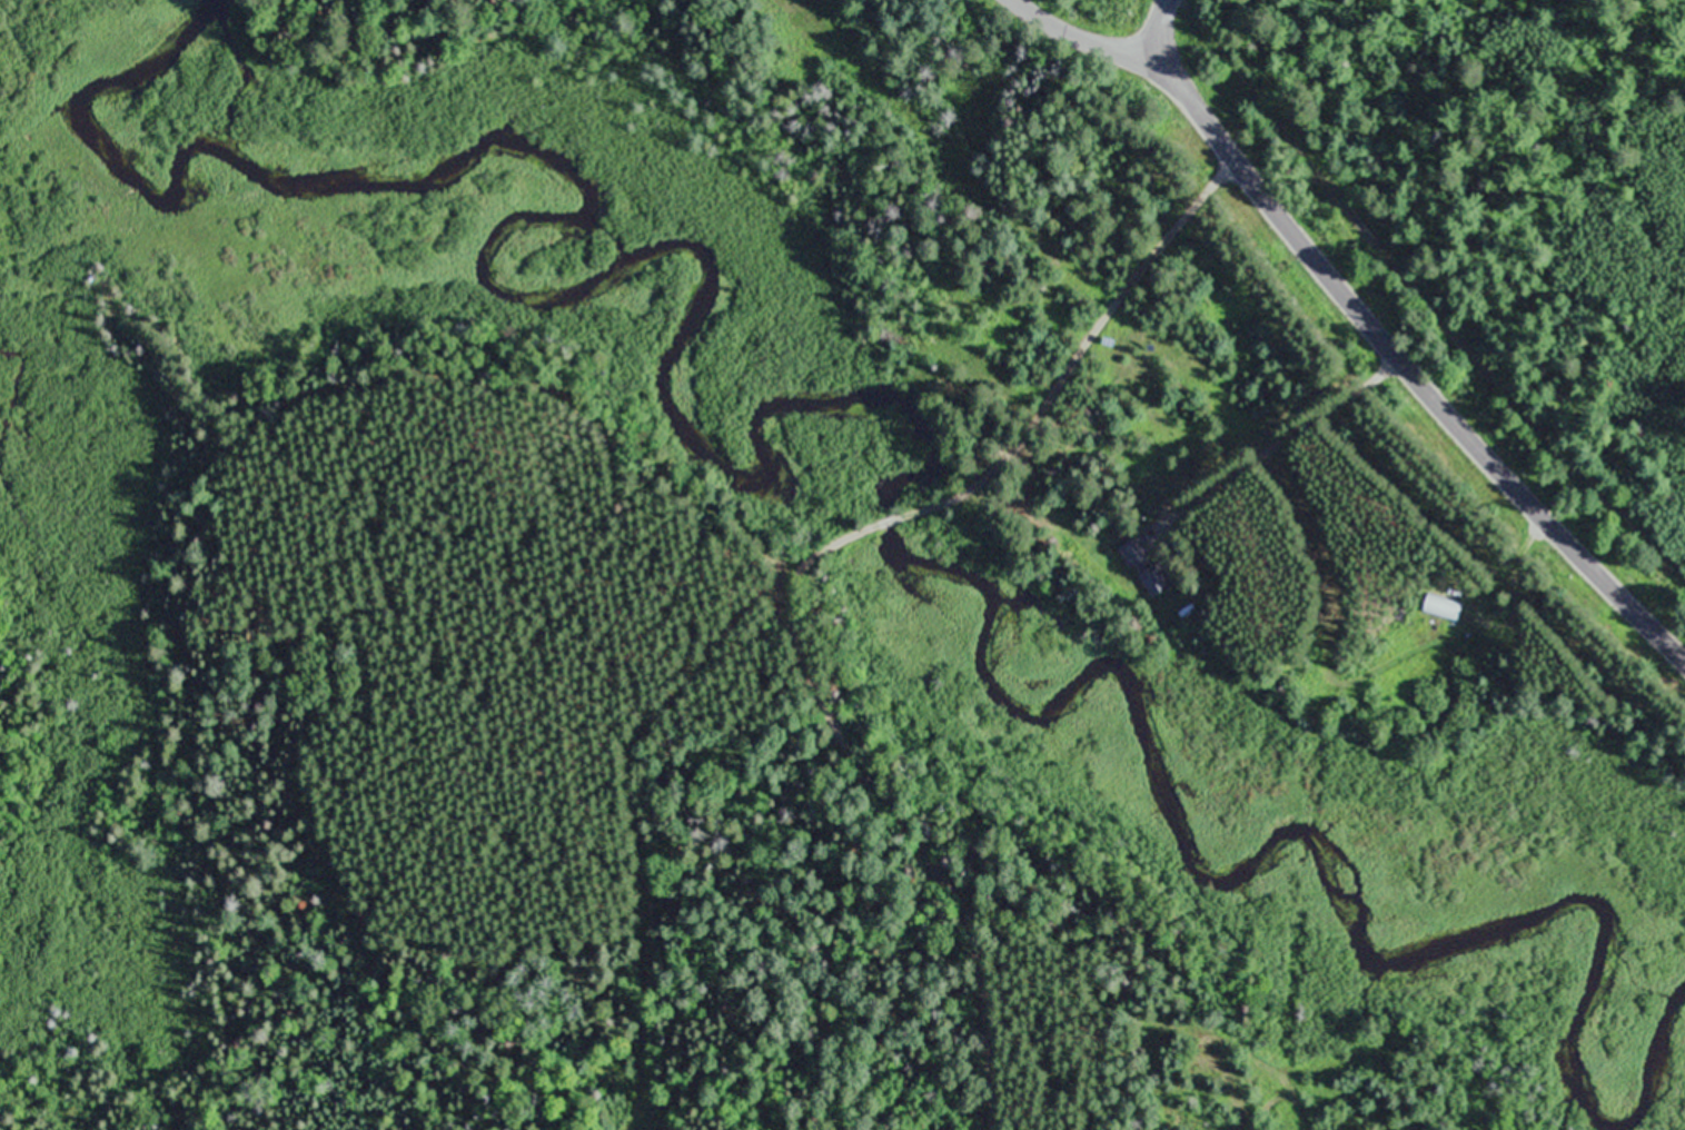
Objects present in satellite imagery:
road: (1157, 33)
road: (1082, 38)
road: (1411, 377)
road: (1173, 512)
road: (893, 516)
road: (830, 545)
building: (1132, 554)
road: (793, 555)
building: (1157, 579)
building: (1444, 607)

